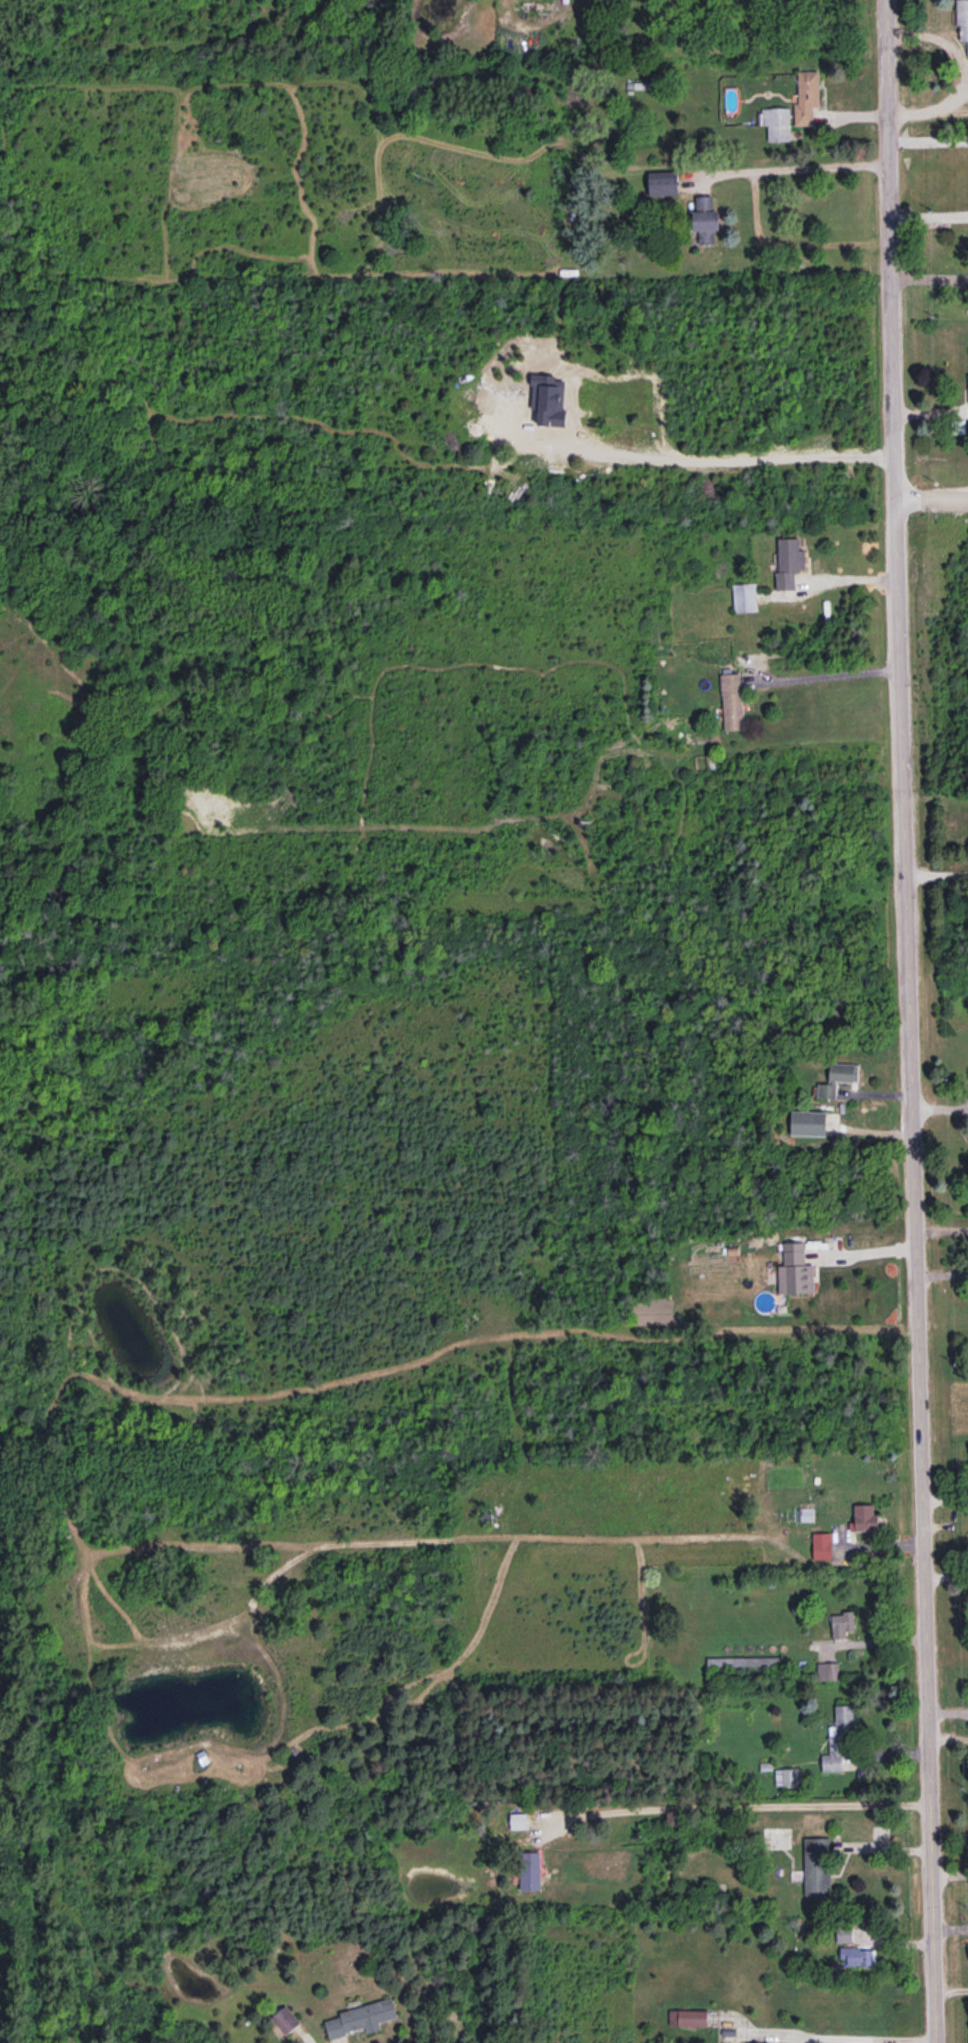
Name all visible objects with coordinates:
building: (962, 20)
building: (806, 97)
building: (776, 123)
road: (929, 142)
road: (795, 168)
building: (664, 182)
road: (929, 217)
building: (704, 221)
road: (930, 278)
road: (932, 495)
building: (788, 561)
building: (744, 597)
road: (826, 674)
building: (732, 701)
road: (936, 874)
road: (910, 1021)
building: (835, 1079)
building: (807, 1122)
road: (942, 1230)
road: (862, 1251)
building: (794, 1269)
road: (942, 1274)
building: (865, 1517)
building: (822, 1545)
building: (842, 1624)
building: (838, 1738)
building: (786, 1776)
road: (736, 1806)
building: (518, 1820)
building: (817, 1866)
building: (530, 1870)
building: (857, 1956)
road: (952, 1991)
building: (361, 2017)
building: (688, 2017)
building: (285, 2018)
road: (851, 2037)

